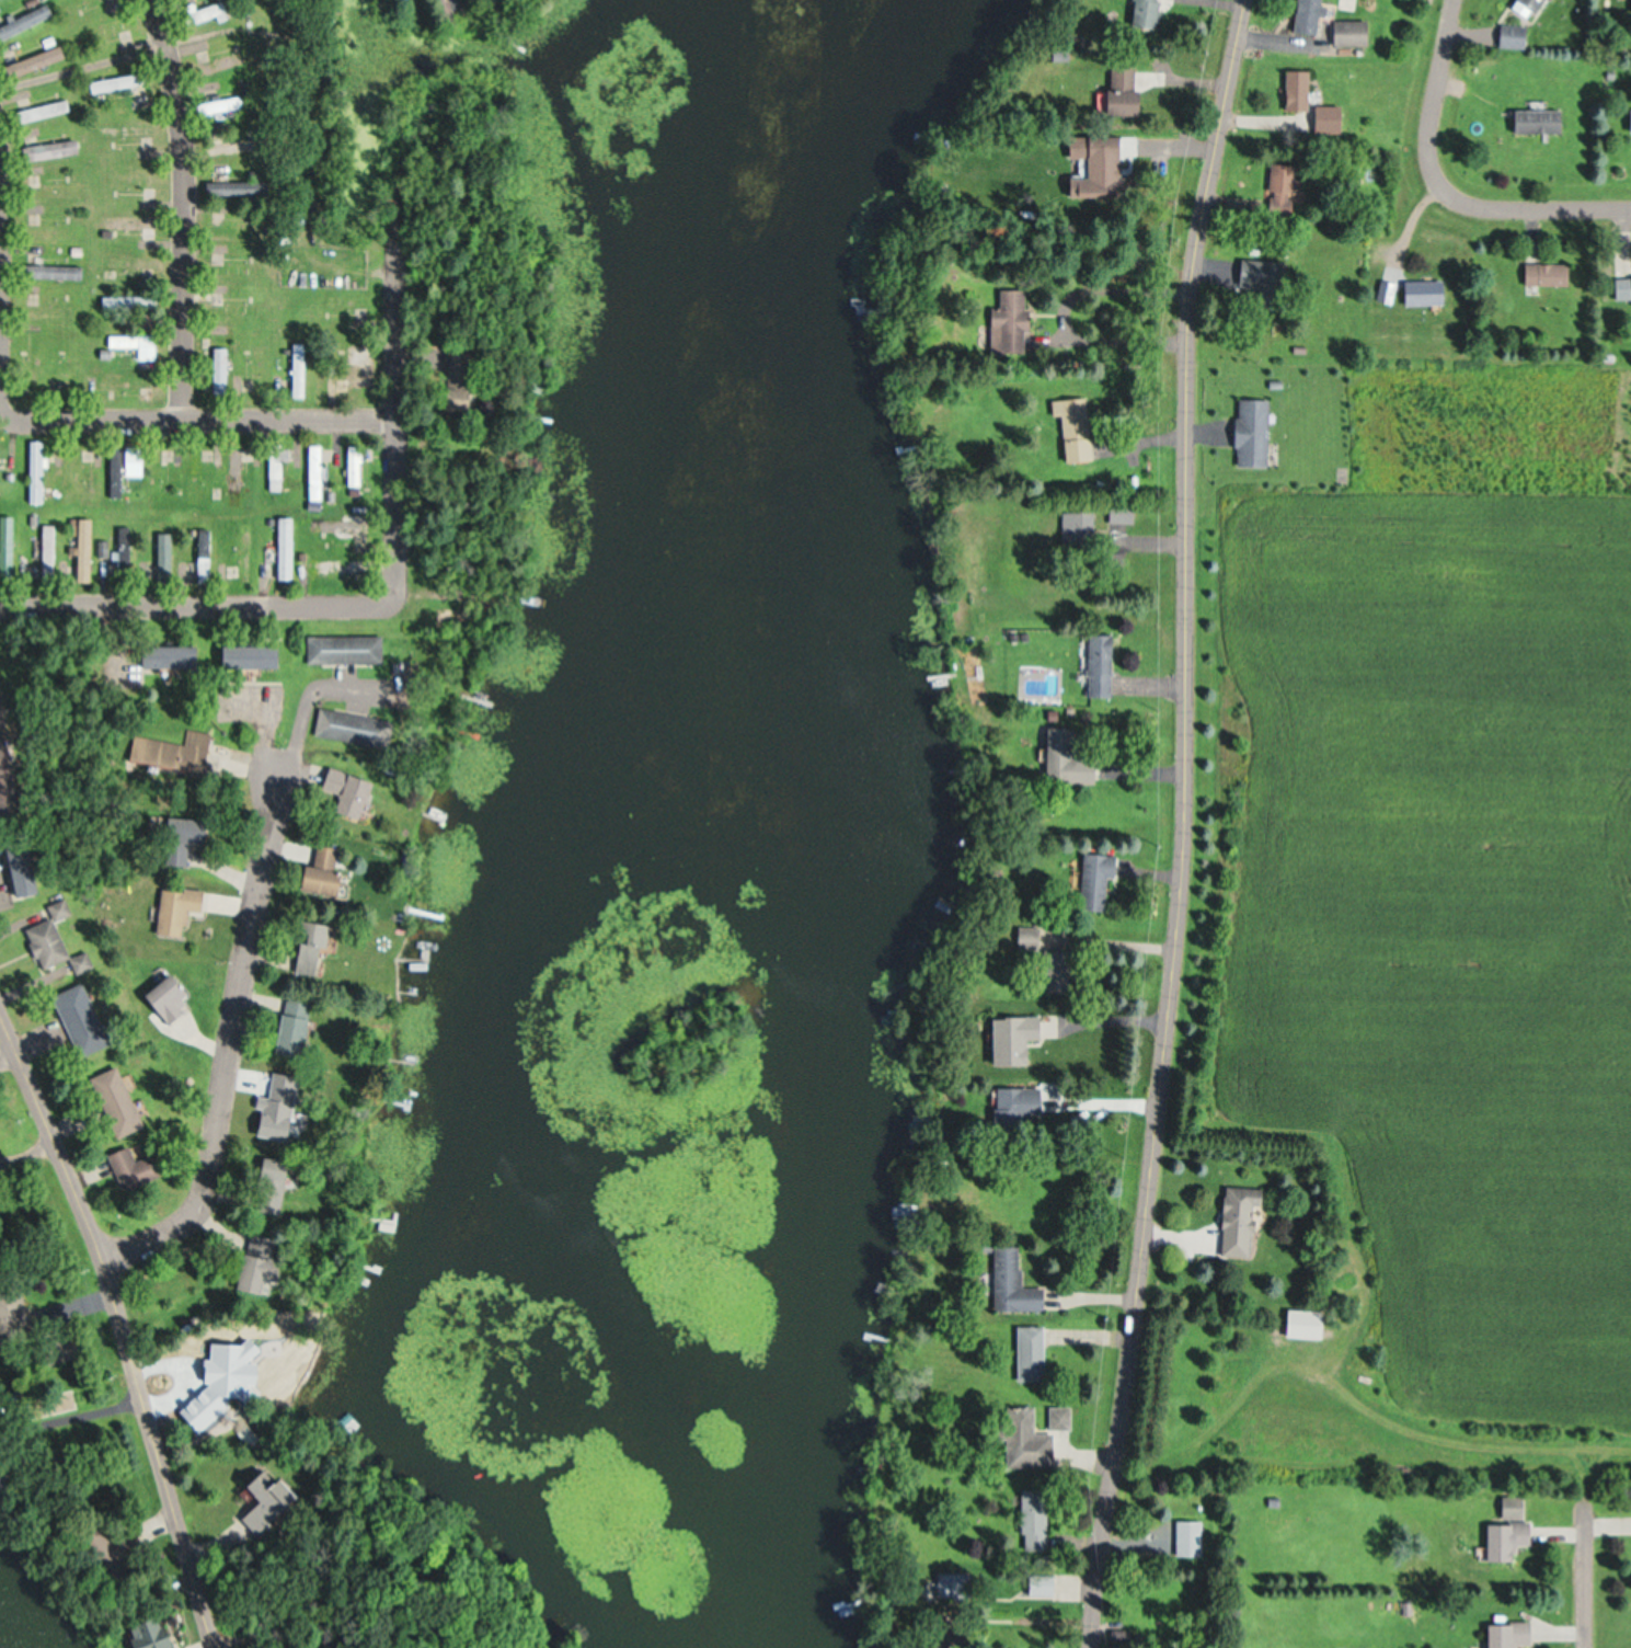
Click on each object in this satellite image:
building: (1524, 7)
building: (1629, 7)
building: (1142, 13)
building: (1305, 16)
building: (27, 21)
building: (114, 27)
building: (1509, 35)
building: (43, 59)
building: (225, 64)
building: (124, 81)
building: (1293, 89)
building: (1118, 90)
building: (228, 104)
building: (47, 108)
building: (1324, 117)
building: (1628, 118)
building: (1532, 119)
building: (232, 146)
building: (61, 147)
building: (1092, 168)
building: (136, 180)
road: (1445, 185)
building: (1282, 190)
road: (179, 204)
building: (134, 221)
building: (234, 268)
building: (1256, 272)
building: (1544, 274)
building: (1621, 287)
building: (1382, 291)
building: (1420, 291)
road: (398, 296)
building: (236, 308)
building: (1006, 320)
building: (134, 341)
building: (38, 365)
building: (223, 368)
building: (303, 368)
building: (261, 370)
building: (467, 385)
road: (197, 419)
building: (1071, 428)
building: (1249, 432)
building: (357, 465)
building: (127, 466)
building: (278, 468)
building: (39, 470)
building: (318, 471)
building: (238, 472)
building: (79, 474)
road: (443, 477)
road: (400, 511)
building: (1117, 512)
building: (341, 524)
building: (1075, 525)
building: (127, 540)
building: (9, 547)
building: (89, 548)
building: (248, 552)
building: (50, 553)
building: (335, 563)
road: (199, 602)
building: (176, 655)
building: (256, 655)
building: (1098, 665)
building: (202, 742)
road: (267, 752)
building: (1063, 759)
building: (355, 786)
road: (1185, 823)
building: (33, 868)
building: (331, 872)
building: (1092, 882)
crop: (1436, 891)
building: (183, 908)
building: (1025, 938)
building: (59, 940)
building: (320, 948)
building: (176, 997)
building: (83, 1012)
building: (302, 1025)
road: (234, 1030)
building: (1008, 1039)
building: (122, 1097)
building: (1013, 1106)
road: (33, 1109)
building: (126, 1160)
road: (33, 1165)
building: (1236, 1220)
building: (1010, 1283)
building: (1300, 1327)
building: (1029, 1353)
road: (142, 1401)
building: (1021, 1439)
building: (1511, 1507)
building: (1032, 1519)
building: (1186, 1540)
building: (1501, 1540)
road: (1585, 1575)
road: (1027, 1590)
road: (338, 1617)
building: (1504, 1635)
road: (222, 1640)

